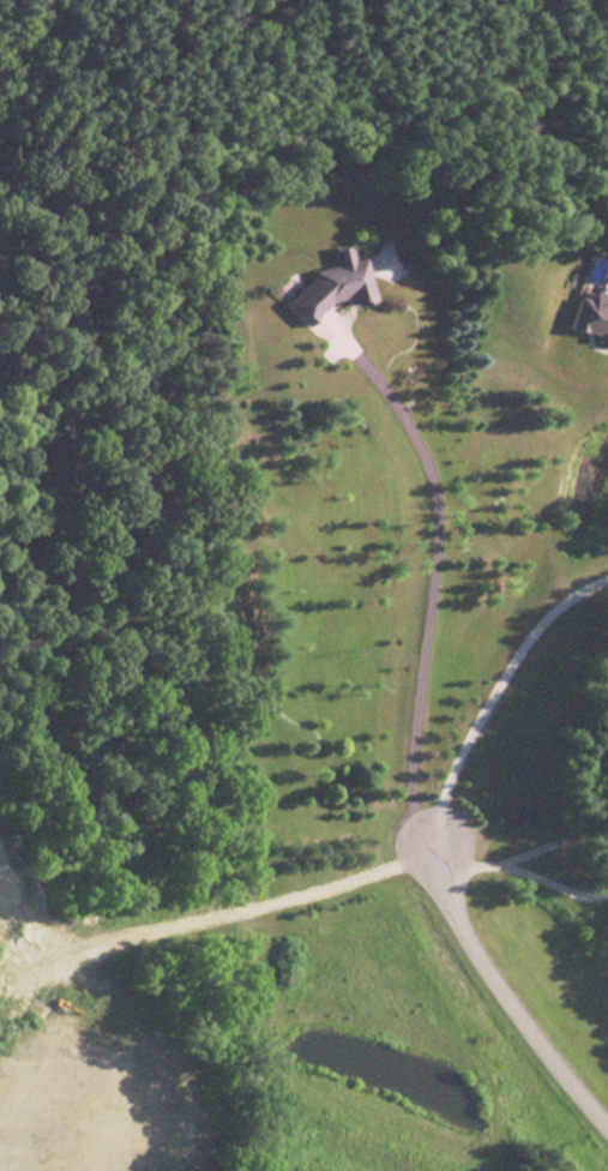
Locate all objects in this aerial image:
building: (324, 287)
building: (589, 316)
road: (435, 577)
road: (495, 678)
road: (556, 829)
road: (472, 853)
road: (558, 871)
road: (501, 983)

